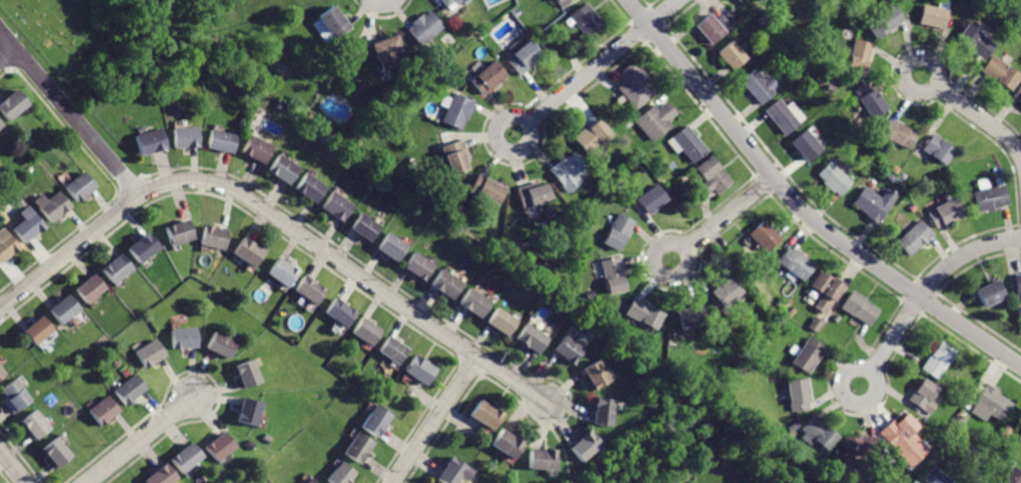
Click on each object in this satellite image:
building: (760, 0)
building: (560, 2)
building: (445, 3)
building: (931, 15)
building: (333, 21)
building: (582, 21)
building: (885, 21)
building: (424, 25)
building: (706, 28)
park: (89, 40)
building: (973, 41)
building: (388, 51)
road: (7, 55)
building: (522, 56)
building: (728, 56)
building: (857, 57)
road: (596, 65)
building: (998, 73)
building: (487, 78)
building: (632, 84)
building: (758, 85)
building: (1017, 94)
building: (872, 103)
building: (10, 104)
building: (455, 110)
road: (69, 113)
road: (974, 113)
building: (779, 116)
building: (651, 120)
building: (0, 124)
building: (593, 135)
building: (900, 136)
building: (182, 137)
building: (220, 139)
building: (145, 140)
building: (686, 144)
building: (804, 145)
building: (937, 149)
building: (256, 150)
building: (453, 156)
building: (564, 169)
building: (283, 170)
building: (710, 178)
building: (833, 179)
building: (75, 186)
building: (310, 188)
building: (486, 191)
building: (529, 196)
building: (988, 196)
building: (652, 200)
building: (873, 204)
building: (50, 205)
building: (337, 208)
road: (800, 208)
building: (946, 211)
road: (274, 218)
road: (721, 219)
building: (366, 227)
building: (26, 228)
building: (176, 230)
building: (616, 230)
building: (761, 235)
building: (211, 237)
building: (913, 237)
building: (6, 246)
building: (139, 246)
building: (393, 248)
building: (246, 251)
building: (792, 265)
building: (420, 266)
building: (114, 267)
building: (280, 272)
building: (613, 276)
building: (447, 285)
building: (89, 286)
building: (1015, 287)
building: (306, 290)
road: (925, 290)
building: (822, 291)
building: (990, 291)
building: (723, 292)
building: (476, 302)
building: (62, 309)
building: (859, 309)
building: (337, 313)
building: (641, 314)
building: (687, 318)
building: (501, 321)
building: (365, 332)
building: (38, 333)
building: (180, 339)
building: (533, 342)
building: (217, 345)
building: (393, 350)
building: (568, 350)
building: (146, 352)
building: (807, 356)
building: (938, 358)
building: (419, 372)
building: (1, 374)
building: (242, 374)
building: (596, 375)
building: (128, 390)
building: (922, 396)
building: (14, 397)
building: (799, 397)
building: (988, 405)
building: (101, 411)
building: (243, 411)
building: (602, 411)
building: (484, 417)
building: (374, 420)
road: (434, 420)
building: (35, 425)
building: (895, 430)
building: (819, 432)
road: (139, 439)
building: (504, 445)
building: (217, 446)
building: (859, 447)
building: (355, 448)
building: (582, 448)
building: (54, 456)
building: (185, 458)
building: (540, 459)
road: (12, 467)
building: (450, 471)
building: (339, 474)
building: (160, 476)
building: (1010, 477)
building: (308, 481)
building: (430, 482)

